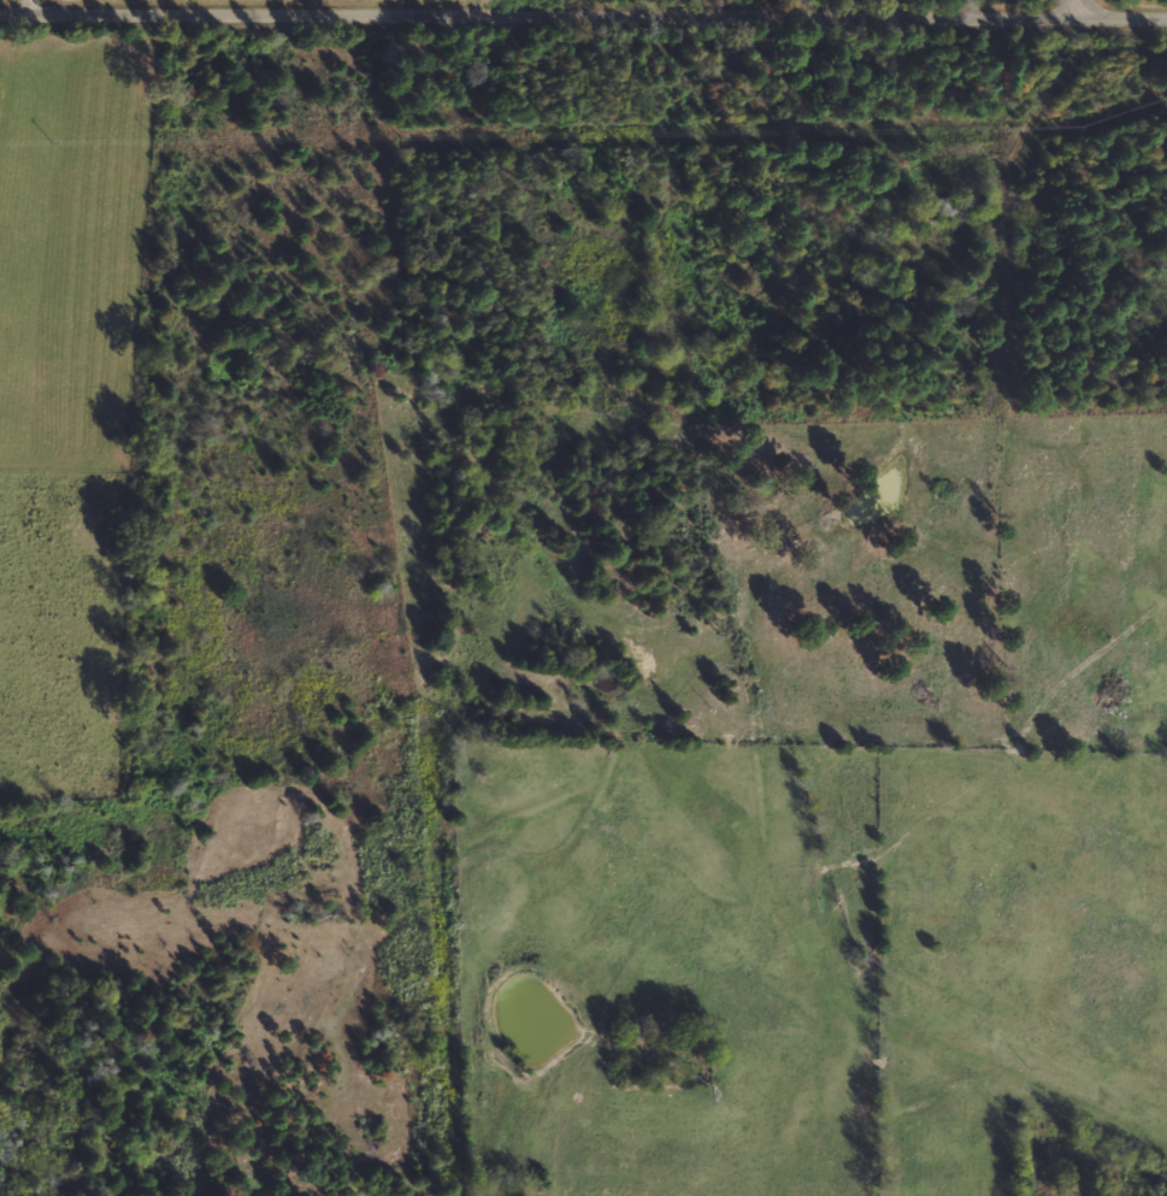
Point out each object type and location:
road: (31, 2)
road: (1088, 7)
road: (583, 11)

